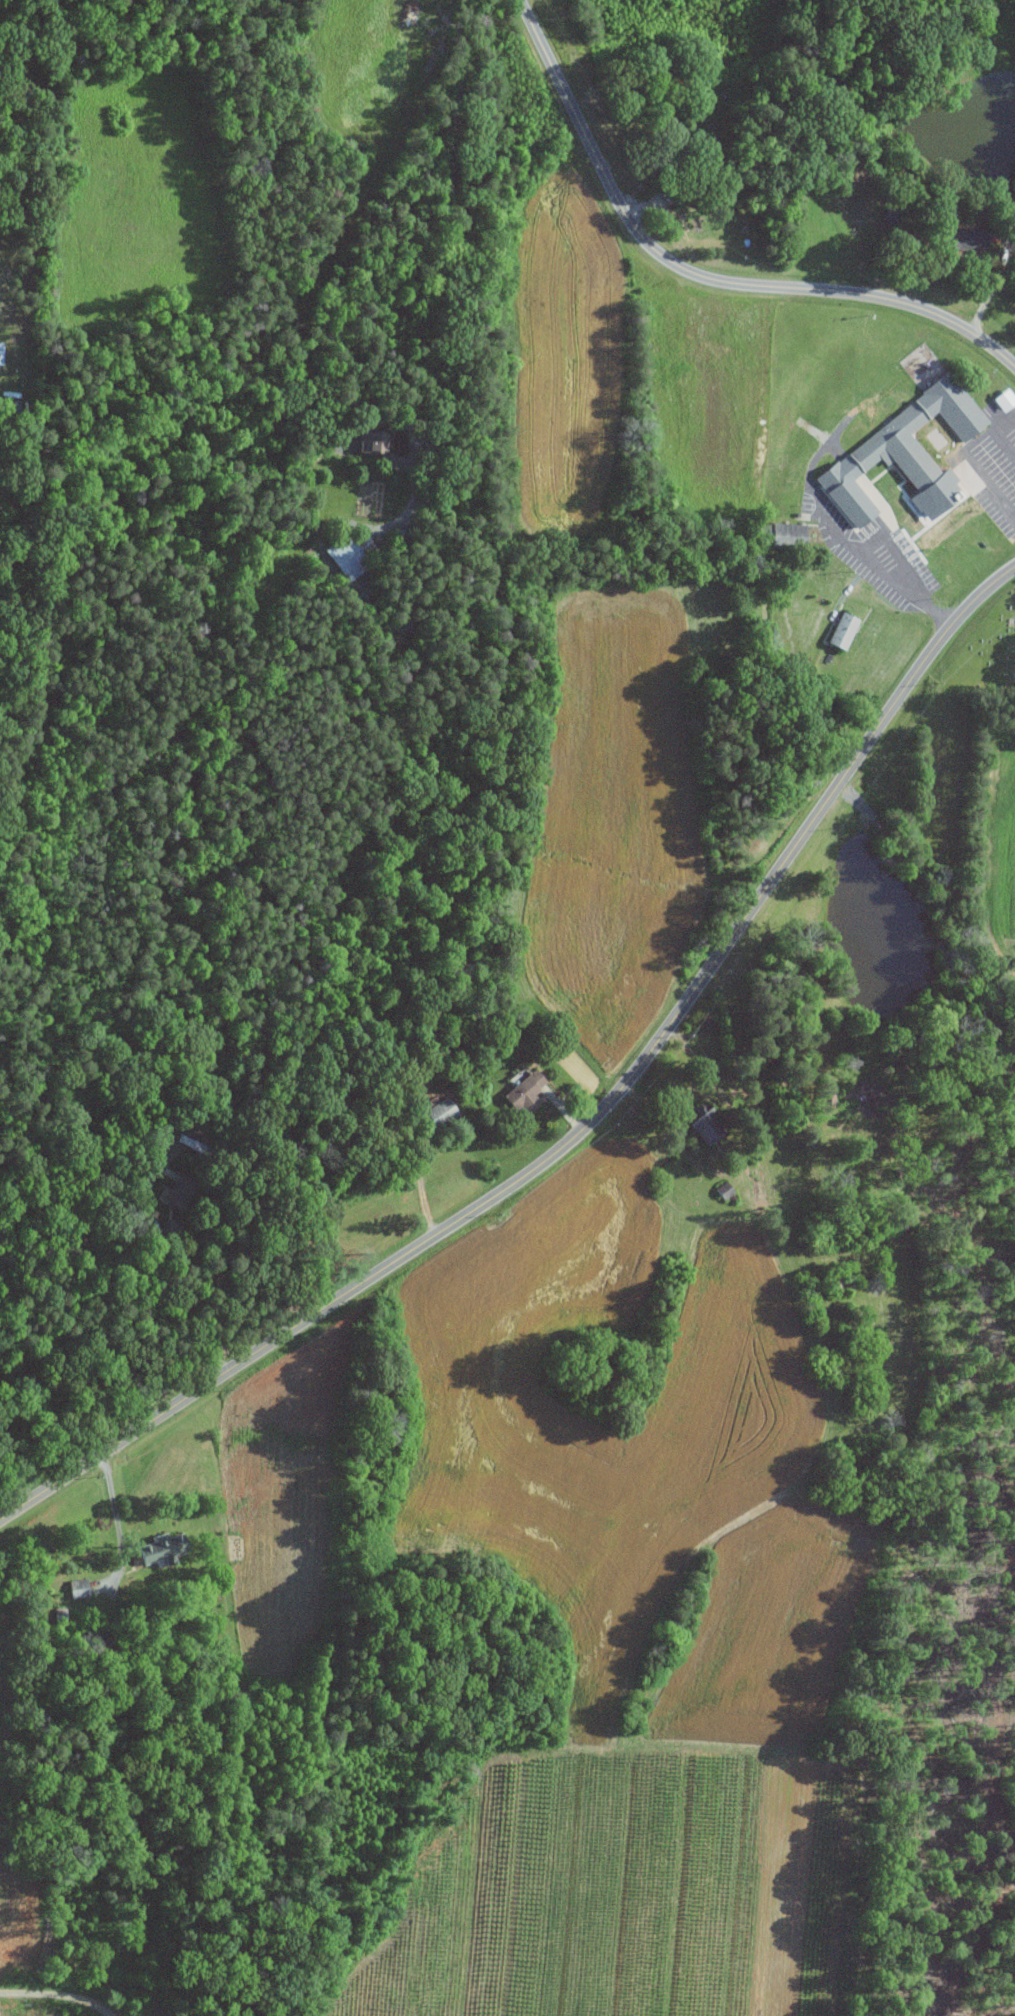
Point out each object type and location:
building: (958, 236)
road: (436, 264)
road: (697, 277)
road: (994, 284)
building: (0, 352)
building: (1003, 398)
road: (998, 433)
building: (373, 440)
building: (901, 452)
building: (782, 534)
building: (352, 555)
road: (909, 587)
building: (840, 630)
building: (526, 1088)
building: (441, 1111)
building: (704, 1126)
road: (587, 1127)
road: (420, 1180)
road: (154, 1262)
road: (119, 1525)
road: (59, 1996)

